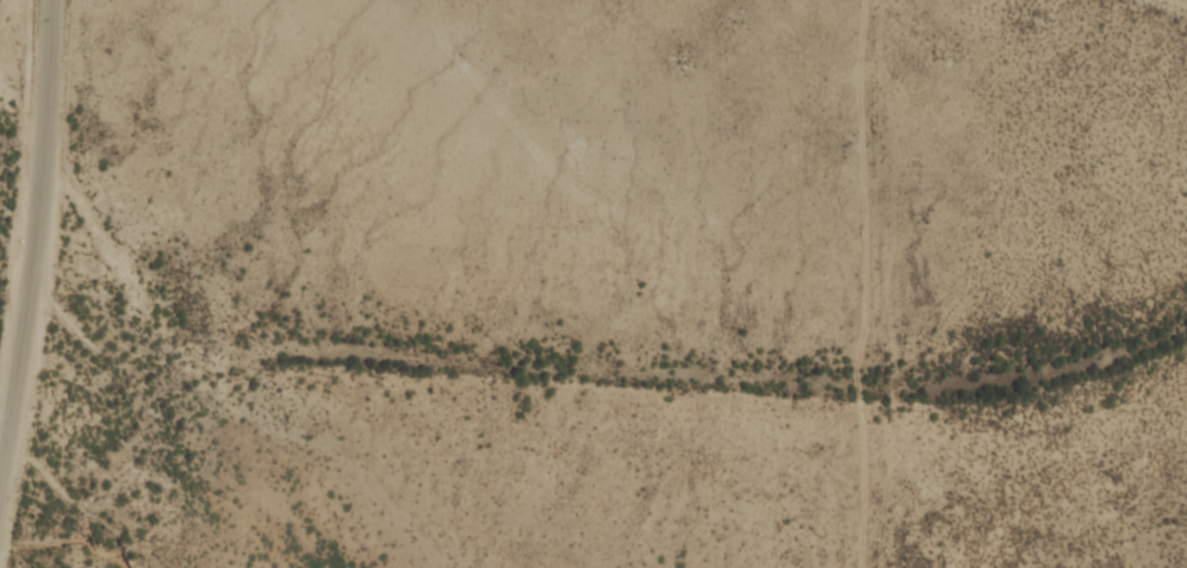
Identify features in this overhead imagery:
road: (31, 231)

